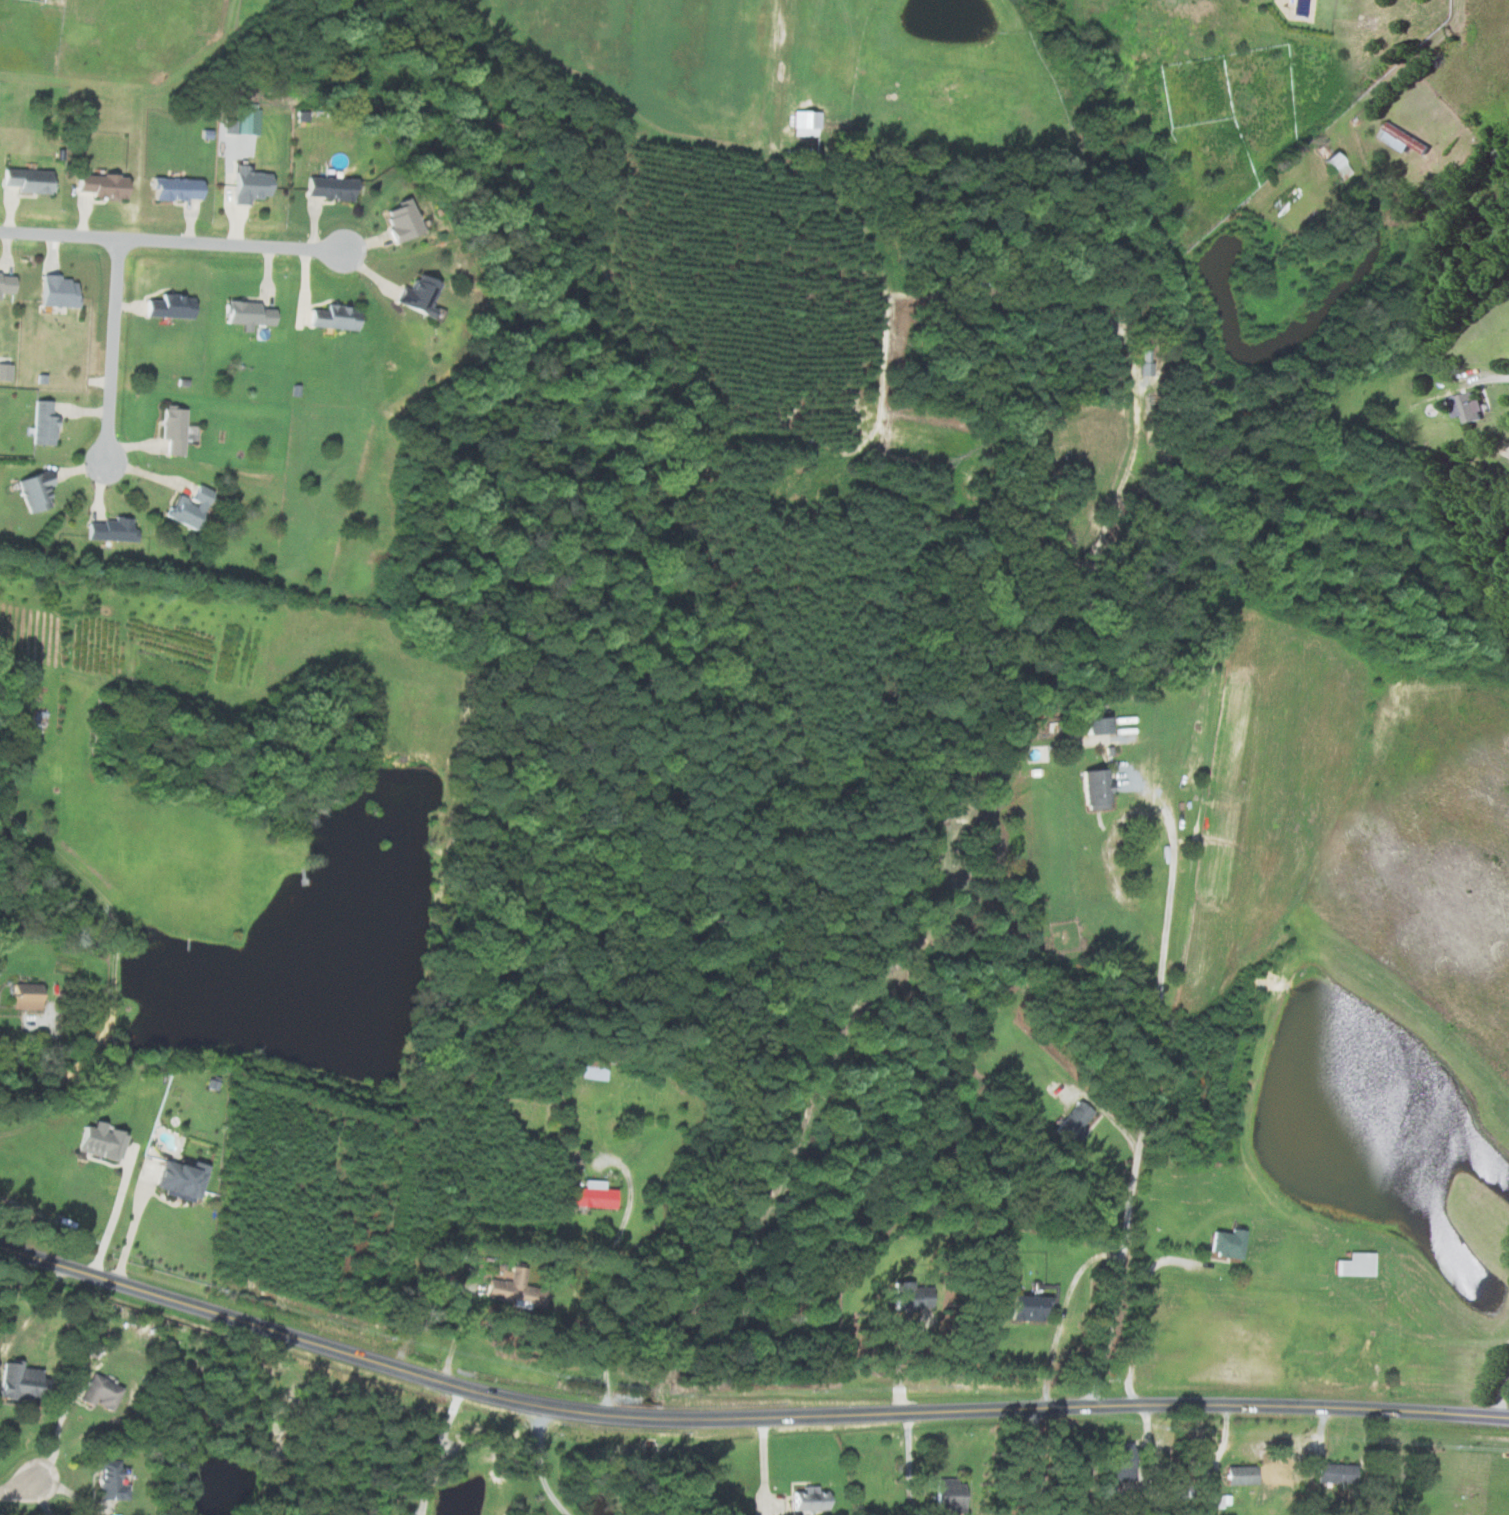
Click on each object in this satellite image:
road: (774, 29)
building: (237, 123)
building: (805, 123)
building: (1400, 138)
road: (228, 165)
building: (1336, 166)
building: (25, 180)
building: (99, 185)
building: (248, 185)
building: (328, 188)
building: (174, 190)
road: (234, 219)
building: (400, 220)
road: (173, 243)
building: (5, 283)
building: (57, 292)
building: (416, 296)
building: (169, 307)
building: (246, 314)
building: (333, 318)
road: (116, 352)
road: (1488, 378)
building: (1465, 407)
building: (42, 424)
building: (175, 430)
building: (33, 491)
building: (110, 531)
building: (1095, 724)
building: (1095, 788)
road: (115, 941)
building: (23, 995)
road: (49, 1086)
road: (1146, 1097)
building: (1073, 1121)
building: (98, 1140)
building: (179, 1179)
building: (590, 1195)
road: (113, 1214)
road: (133, 1224)
building: (1227, 1242)
building: (1354, 1264)
road: (607, 1273)
building: (514, 1290)
building: (909, 1296)
building: (1025, 1307)
road: (1141, 1308)
road: (1062, 1313)
road: (455, 1334)
building: (19, 1381)
building: (98, 1392)
road: (1501, 1395)
road: (743, 1417)
road: (58, 1432)
road: (439, 1450)
road: (1040, 1461)
road: (541, 1462)
building: (1120, 1462)
road: (910, 1464)
building: (1334, 1473)
building: (1239, 1475)
building: (108, 1481)
road: (21, 1488)
building: (948, 1496)
road: (43, 1497)
building: (808, 1499)
building: (1218, 1501)

